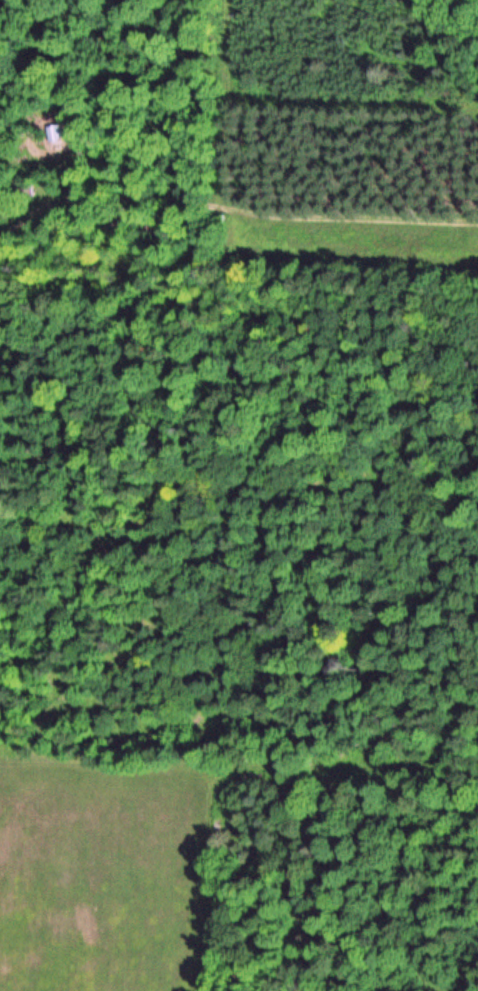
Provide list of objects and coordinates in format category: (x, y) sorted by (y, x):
building: (60, 132)
road: (234, 210)

